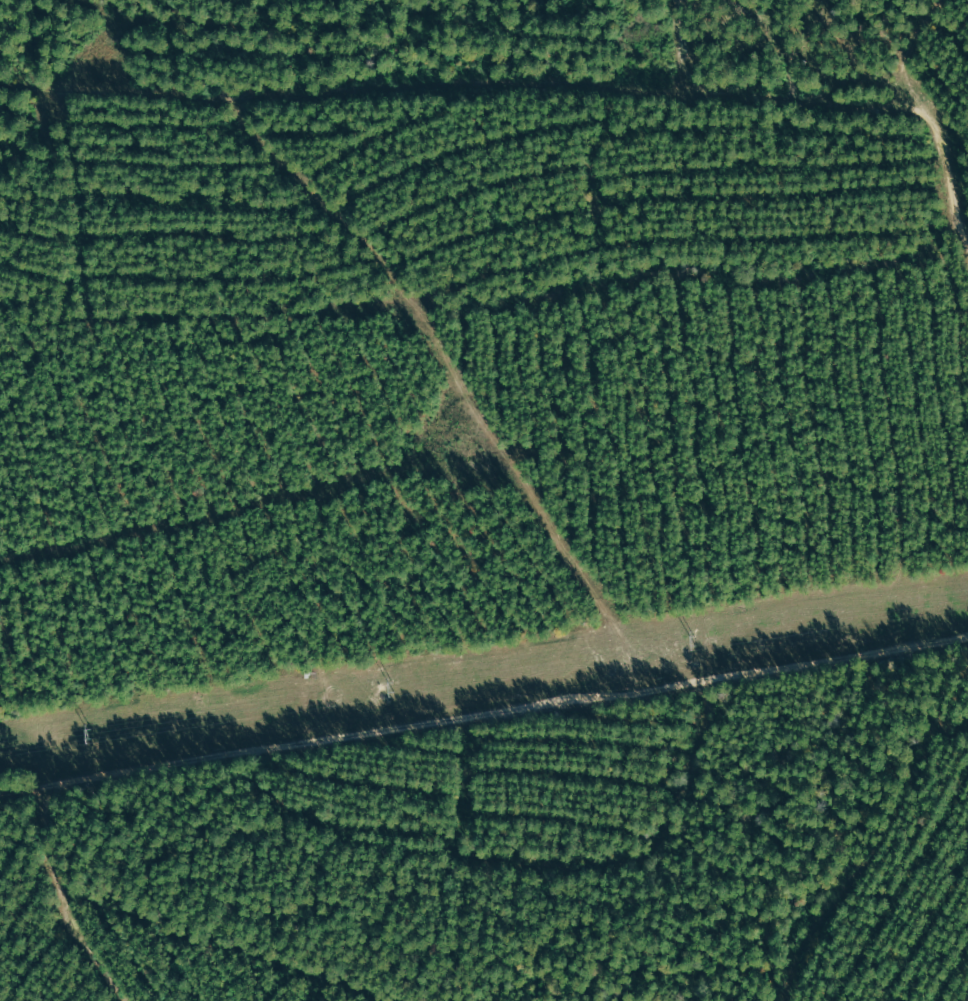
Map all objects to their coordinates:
power tower: (691, 642)
power tower: (389, 689)
power tower: (89, 733)
road: (487, 745)

